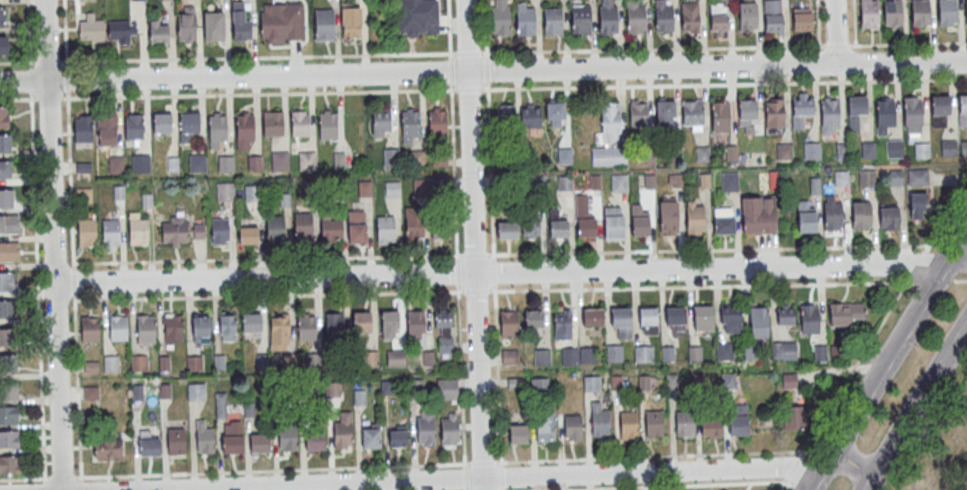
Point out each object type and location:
building: (966, 8)
building: (406, 13)
building: (893, 13)
building: (921, 13)
building: (947, 13)
building: (869, 14)
building: (773, 15)
building: (690, 16)
building: (748, 16)
building: (2, 17)
building: (609, 17)
building: (663, 17)
building: (718, 17)
building: (636, 18)
building: (802, 18)
building: (581, 19)
building: (501, 20)
building: (527, 21)
building: (281, 22)
building: (352, 22)
building: (554, 22)
building: (239, 24)
building: (185, 25)
building: (323, 25)
building: (90, 26)
building: (213, 26)
road: (27, 31)
building: (122, 31)
building: (158, 31)
road: (817, 32)
road: (834, 32)
road: (854, 32)
road: (65, 33)
building: (3, 46)
road: (483, 53)
road: (483, 72)
road: (29, 79)
road: (67, 80)
road: (513, 88)
road: (17, 98)
road: (48, 98)
building: (801, 110)
building: (962, 110)
building: (856, 111)
building: (912, 111)
building: (940, 111)
building: (746, 112)
building: (555, 113)
building: (664, 113)
building: (775, 113)
building: (830, 113)
building: (638, 114)
building: (692, 114)
building: (530, 115)
building: (885, 115)
building: (721, 116)
building: (3, 117)
building: (504, 117)
building: (162, 122)
building: (299, 122)
building: (381, 122)
building: (438, 122)
building: (272, 123)
building: (610, 123)
building: (409, 124)
building: (188, 125)
building: (327, 125)
building: (133, 126)
building: (216, 128)
building: (106, 129)
building: (244, 130)
building: (82, 131)
building: (676, 138)
building: (5, 143)
building: (964, 147)
building: (895, 148)
building: (948, 148)
building: (868, 150)
building: (922, 150)
building: (811, 151)
building: (842, 151)
building: (731, 152)
building: (784, 152)
building: (646, 154)
building: (703, 154)
building: (416, 156)
building: (564, 156)
building: (339, 157)
building: (390, 157)
building: (609, 157)
building: (280, 160)
building: (307, 160)
building: (197, 162)
building: (140, 163)
building: (225, 163)
building: (115, 164)
building: (6, 170)
building: (866, 177)
building: (917, 177)
building: (840, 178)
road: (70, 180)
building: (729, 180)
building: (564, 183)
building: (619, 184)
building: (815, 185)
building: (364, 188)
building: (392, 189)
building: (225, 191)
building: (250, 192)
building: (83, 195)
building: (7, 198)
building: (918, 205)
building: (833, 212)
building: (861, 215)
building: (758, 216)
building: (669, 217)
building: (890, 217)
building: (806, 218)
building: (414, 220)
building: (695, 220)
road: (945, 220)
building: (640, 222)
building: (614, 224)
building: (9, 225)
building: (442, 225)
building: (303, 226)
building: (724, 226)
building: (357, 227)
building: (532, 227)
building: (385, 228)
building: (587, 228)
building: (275, 229)
building: (197, 230)
building: (331, 230)
building: (560, 230)
building: (175, 231)
building: (220, 231)
building: (87, 232)
building: (137, 232)
building: (508, 232)
building: (111, 233)
building: (248, 235)
road: (55, 244)
road: (455, 245)
road: (473, 245)
road: (492, 245)
building: (10, 252)
road: (501, 255)
road: (916, 267)
road: (512, 274)
road: (960, 281)
building: (7, 282)
road: (74, 282)
road: (933, 282)
road: (37, 287)
road: (493, 290)
building: (7, 309)
building: (846, 313)
building: (786, 316)
building: (648, 317)
building: (676, 317)
building: (594, 318)
building: (621, 318)
building: (389, 319)
building: (444, 319)
building: (704, 319)
building: (732, 319)
building: (535, 320)
building: (810, 320)
building: (759, 322)
building: (252, 323)
building: (510, 323)
building: (335, 325)
building: (416, 325)
building: (227, 327)
building: (361, 327)
building: (563, 327)
building: (174, 328)
building: (200, 328)
building: (307, 328)
building: (89, 329)
building: (119, 329)
building: (146, 329)
building: (280, 330)
building: (8, 337)
building: (445, 344)
building: (723, 351)
building: (784, 351)
building: (615, 353)
building: (751, 353)
building: (820, 353)
building: (644, 354)
building: (668, 354)
building: (695, 354)
building: (570, 356)
building: (587, 356)
building: (510, 357)
building: (542, 357)
building: (398, 358)
building: (428, 358)
road: (887, 359)
building: (138, 362)
building: (194, 362)
building: (111, 363)
building: (8, 364)
road: (852, 367)
building: (728, 381)
building: (789, 381)
building: (529, 385)
road: (78, 389)
building: (332, 389)
building: (446, 389)
building: (9, 391)
building: (196, 391)
building: (91, 393)
building: (359, 396)
building: (220, 405)
road: (915, 406)
building: (9, 415)
building: (794, 417)
building: (737, 419)
building: (599, 422)
building: (684, 423)
building: (654, 424)
building: (628, 425)
building: (545, 427)
building: (572, 427)
building: (425, 428)
building: (711, 428)
building: (449, 429)
building: (517, 434)
building: (370, 436)
building: (231, 437)
building: (397, 437)
building: (10, 439)
building: (287, 439)
building: (205, 441)
building: (314, 441)
building: (177, 442)
building: (259, 442)
building: (149, 446)
building: (108, 449)
park: (943, 451)
road: (437, 463)
building: (9, 465)
road: (790, 465)
road: (23, 477)
road: (61, 477)
road: (521, 477)
road: (781, 483)
road: (44, 484)
road: (668, 485)
road: (81, 486)

